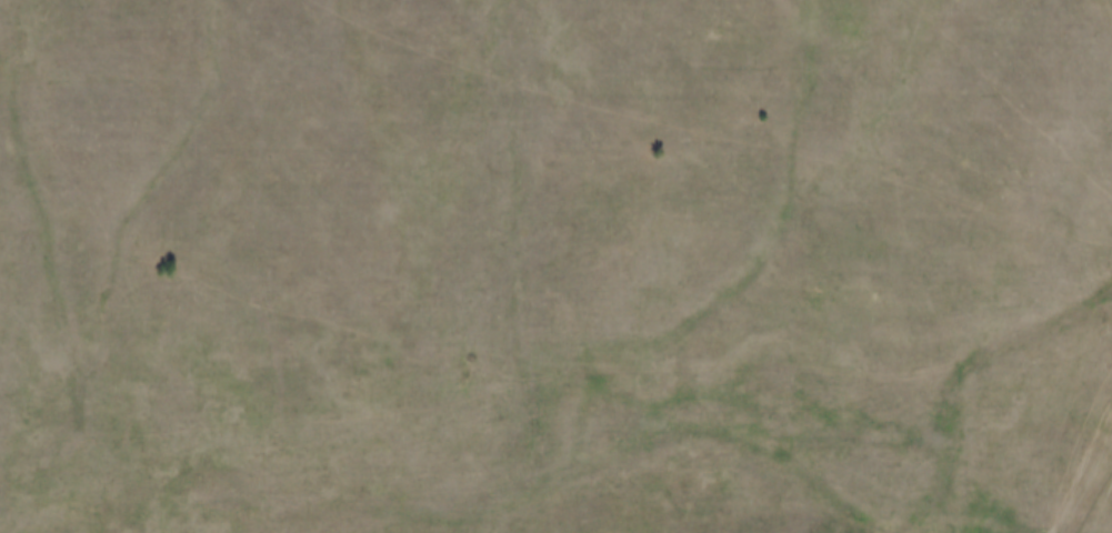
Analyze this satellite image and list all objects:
road: (954, 247)
road: (1045, 424)

